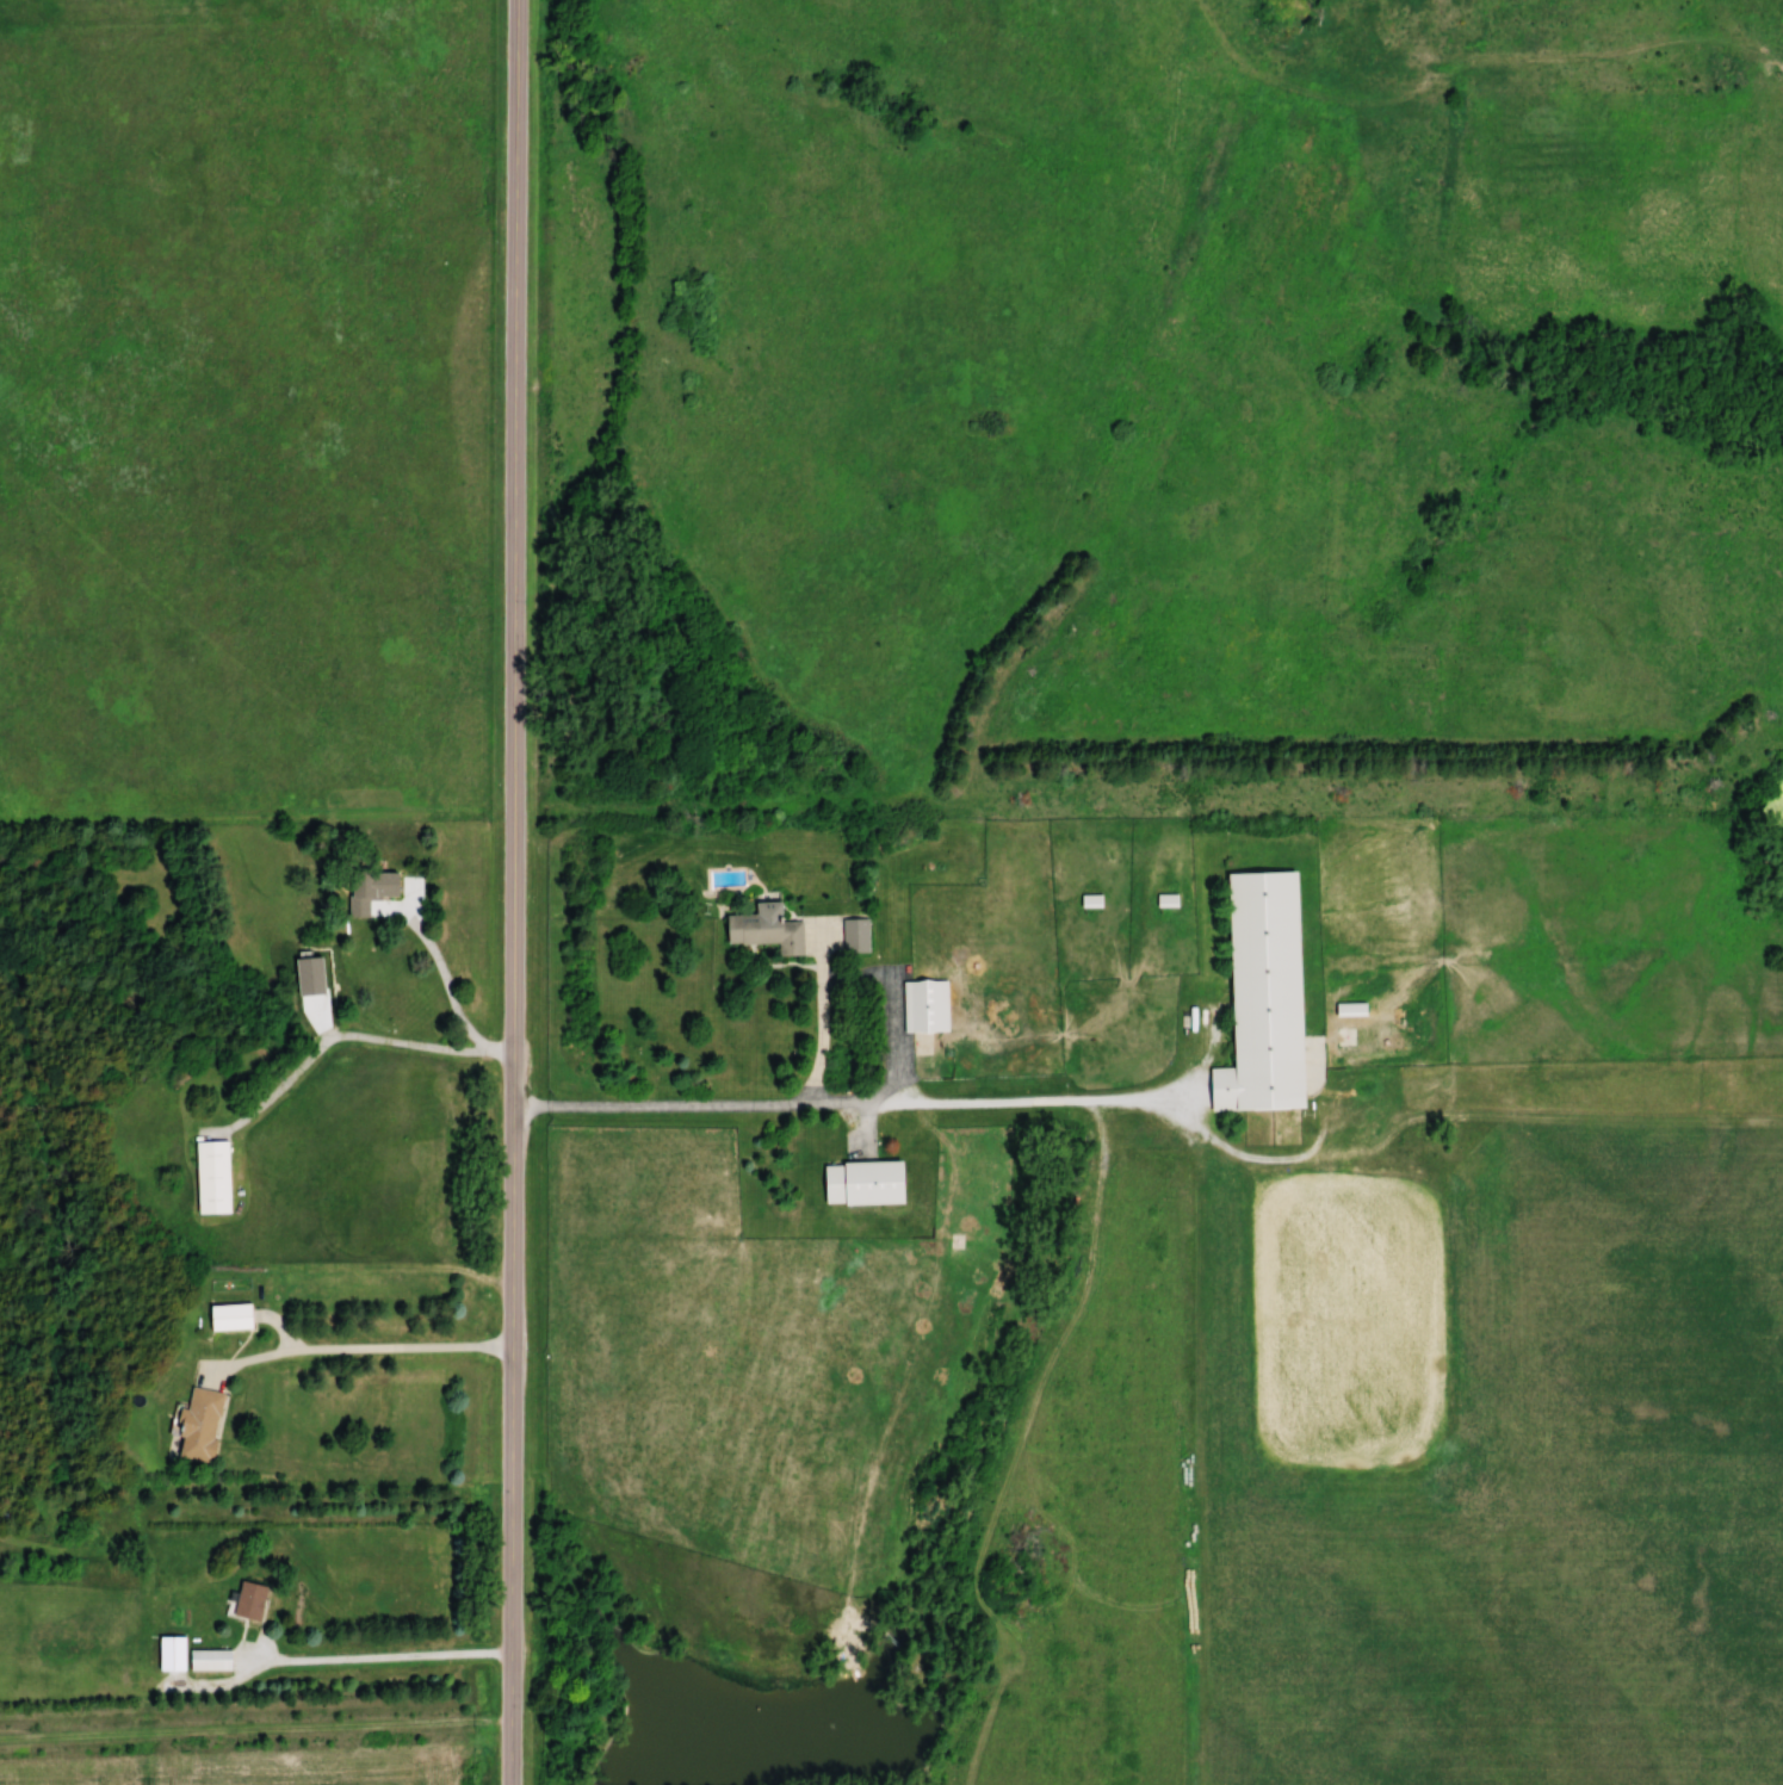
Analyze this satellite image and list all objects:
building: (367, 892)
road: (515, 892)
building: (1164, 901)
building: (1088, 903)
building: (762, 930)
building: (853, 937)
road: (442, 972)
road: (863, 975)
building: (1257, 994)
building: (922, 1008)
building: (1346, 1009)
road: (346, 1037)
road: (855, 1104)
building: (210, 1179)
building: (858, 1185)
building: (224, 1316)
road: (355, 1350)
building: (193, 1424)
building: (244, 1601)
building: (166, 1654)
road: (377, 1659)
building: (206, 1660)

